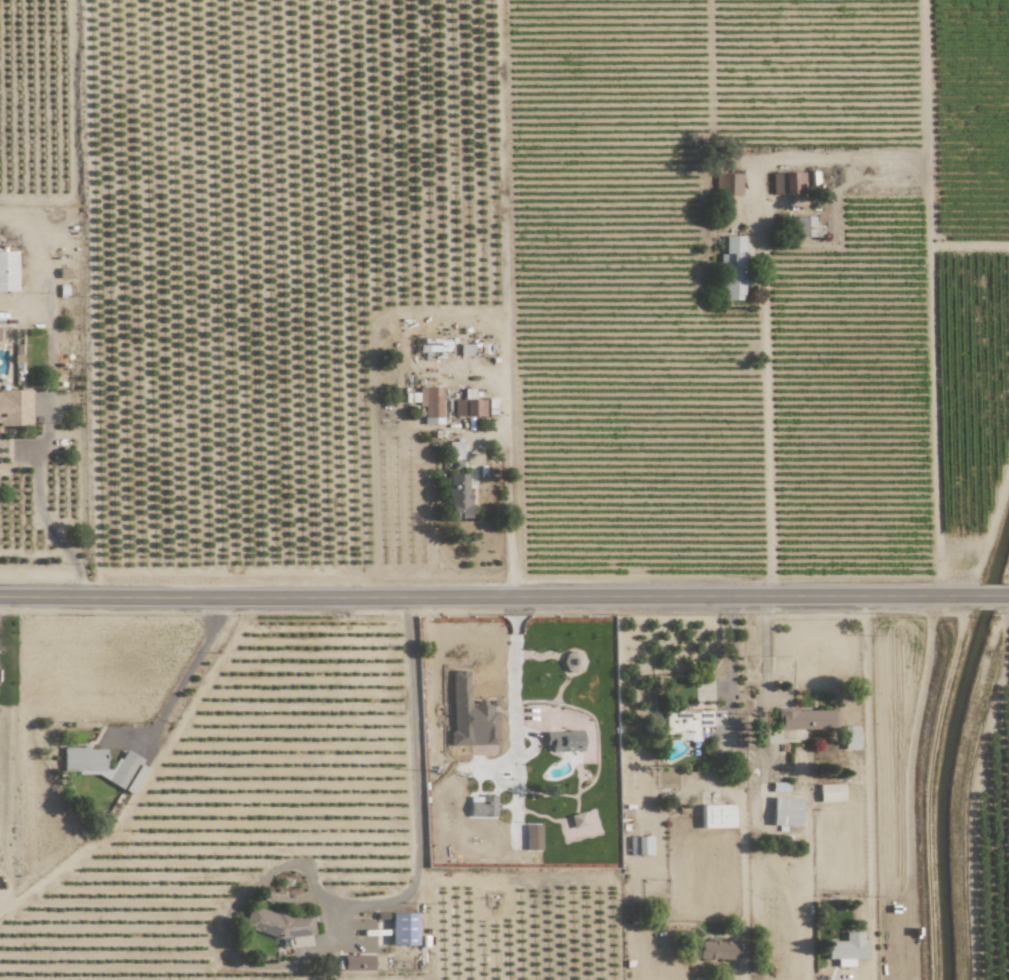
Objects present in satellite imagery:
building: (787, 182)
building: (728, 184)
building: (804, 226)
building: (733, 268)
building: (8, 271)
building: (5, 334)
road: (507, 362)
building: (431, 405)
building: (474, 407)
building: (15, 408)
road: (760, 418)
building: (455, 453)
road: (508, 489)
building: (459, 496)
road: (41, 506)
road: (989, 595)
road: (1005, 595)
road: (488, 597)
road: (730, 648)
road: (193, 667)
building: (470, 715)
building: (806, 719)
building: (686, 722)
building: (851, 737)
building: (562, 742)
road: (866, 761)
building: (104, 766)
road: (475, 767)
road: (415, 785)
building: (830, 792)
building: (482, 806)
building: (785, 811)
building: (716, 816)
building: (581, 818)
building: (533, 837)
building: (640, 845)
building: (279, 926)
building: (403, 929)
building: (847, 949)
building: (716, 950)
building: (358, 962)

